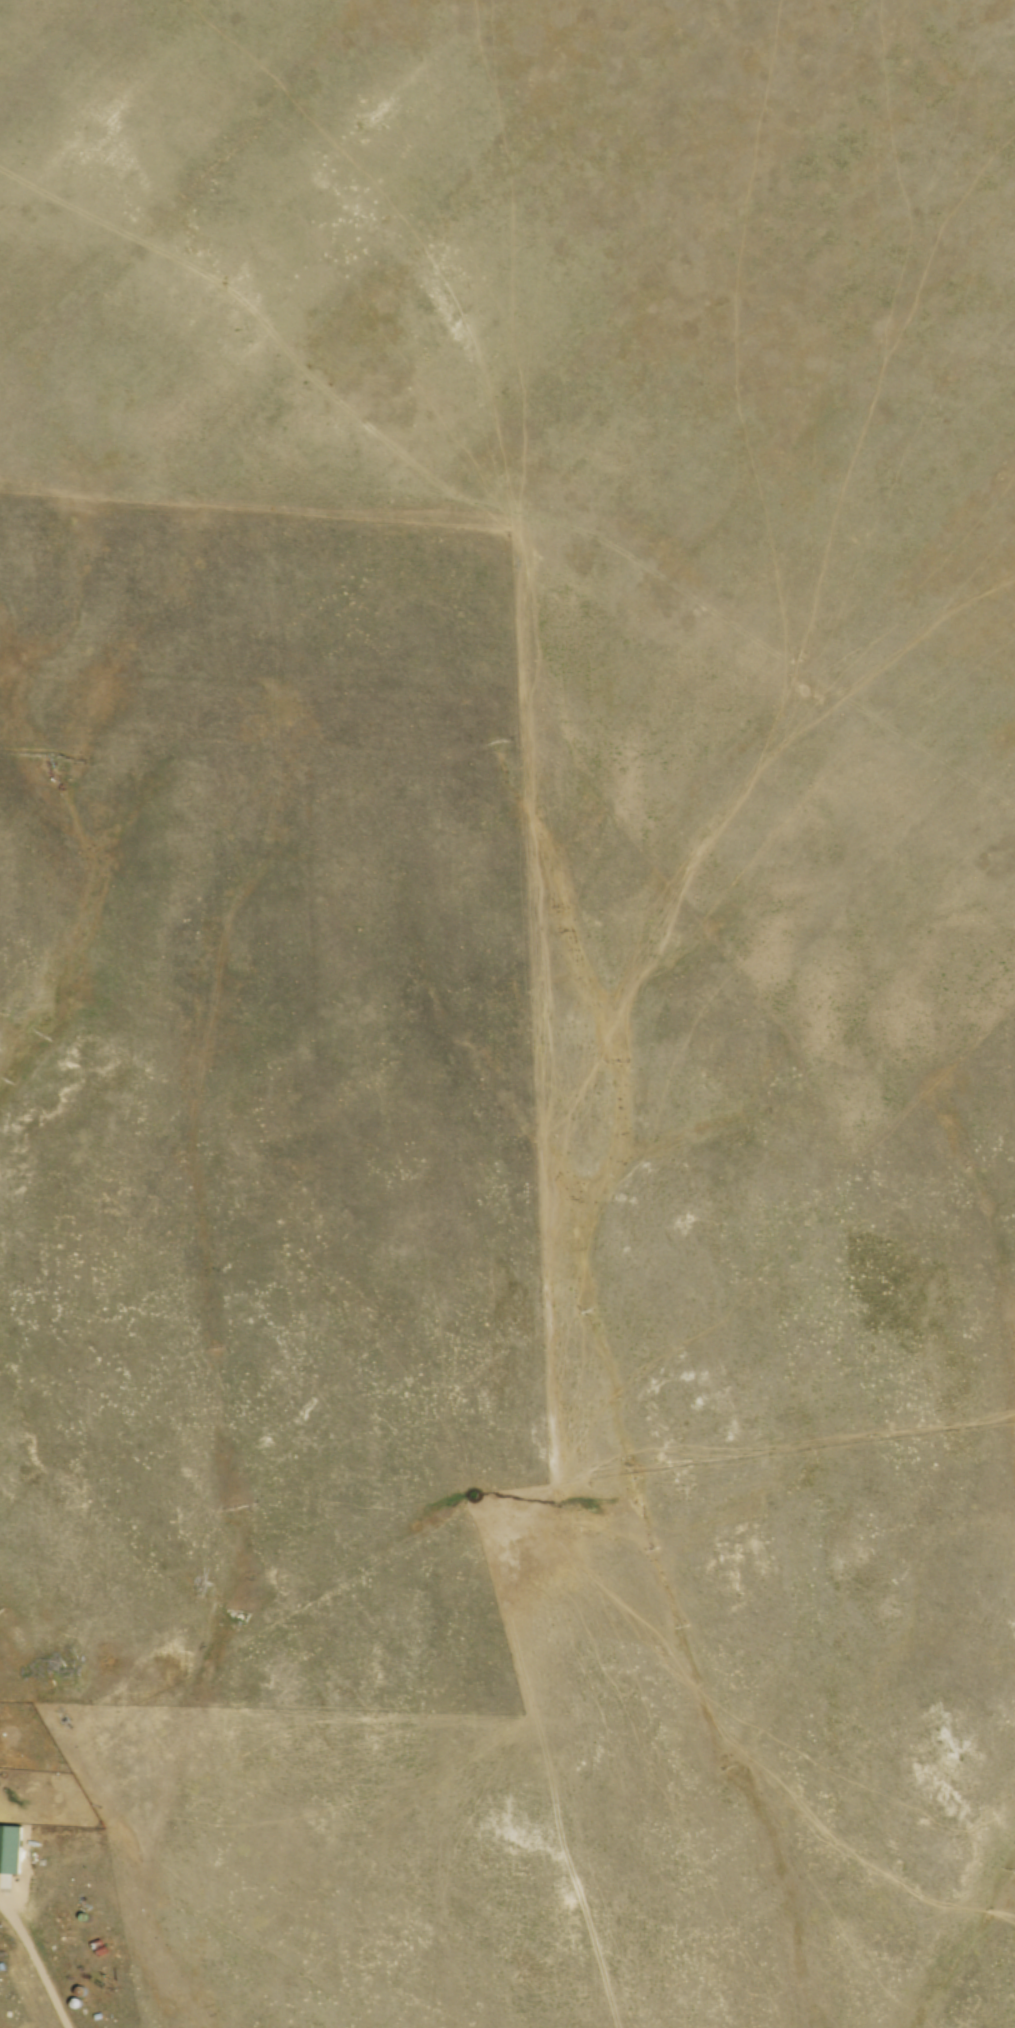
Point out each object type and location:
building: (13, 1847)

